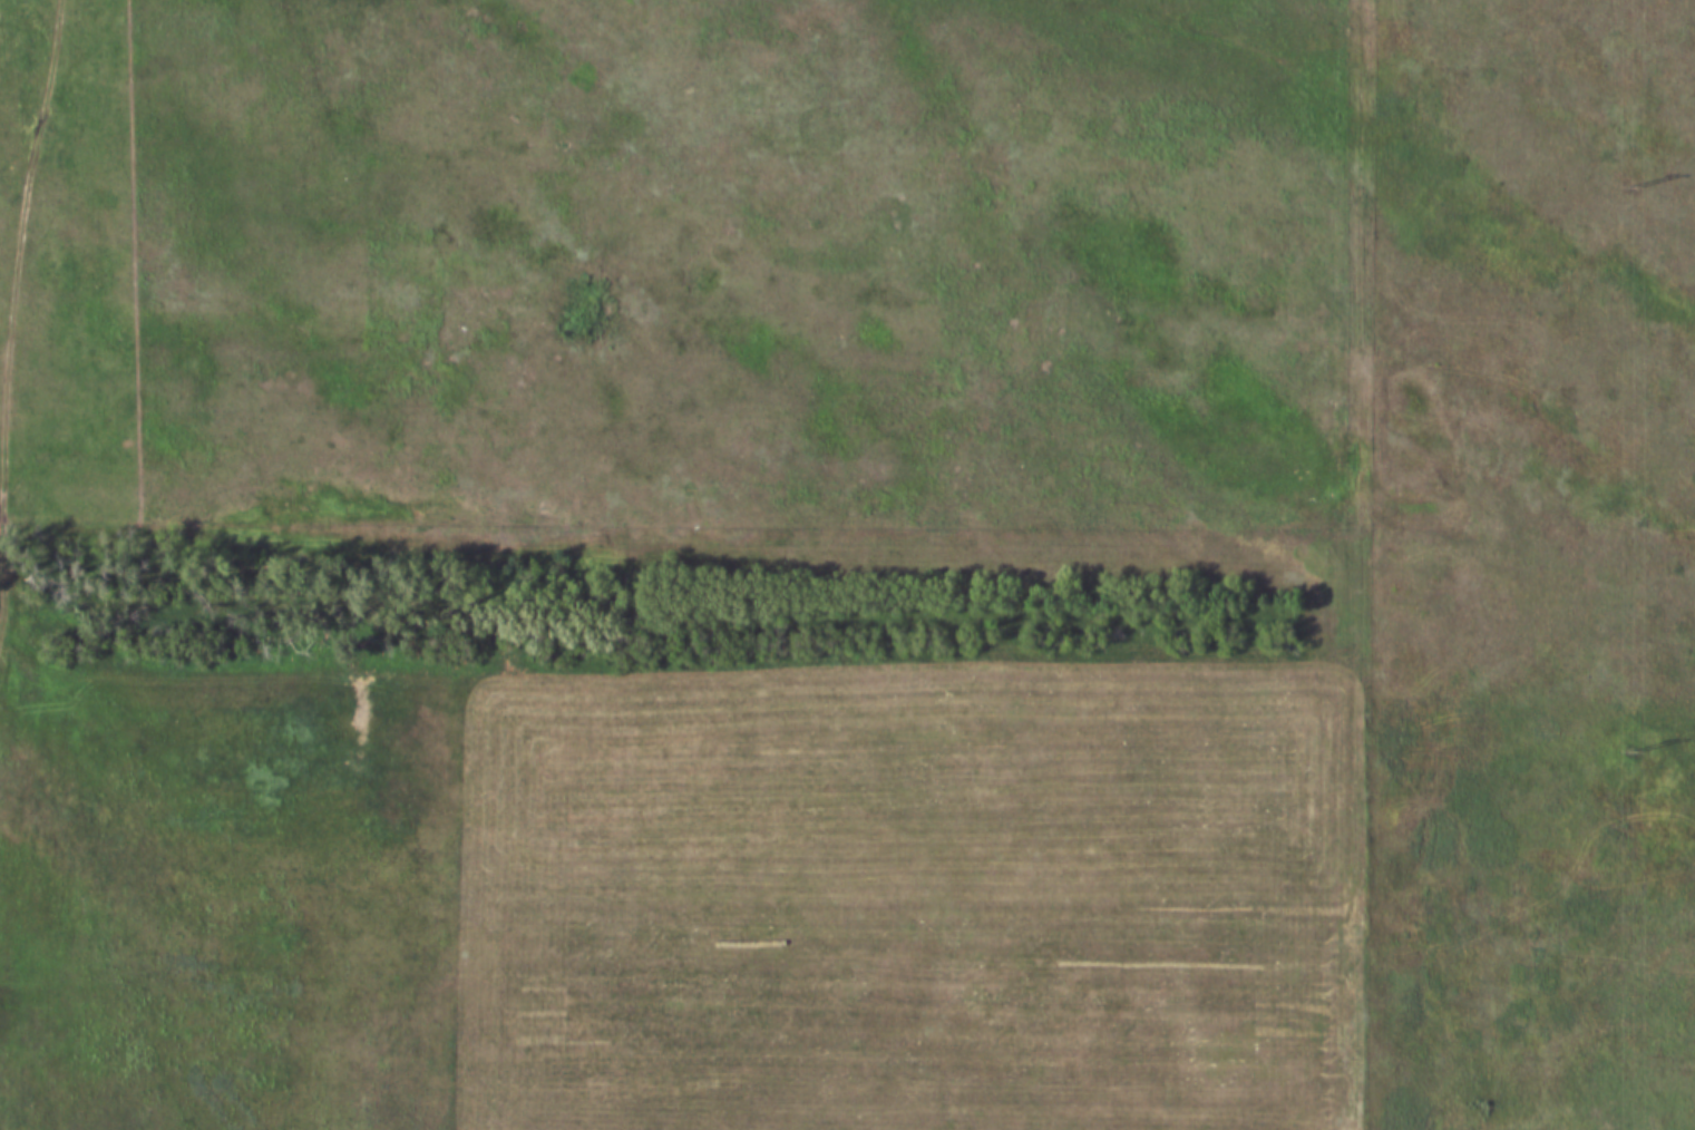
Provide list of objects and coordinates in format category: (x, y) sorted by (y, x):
power tower: (1635, 187)
power tower: (1636, 750)

